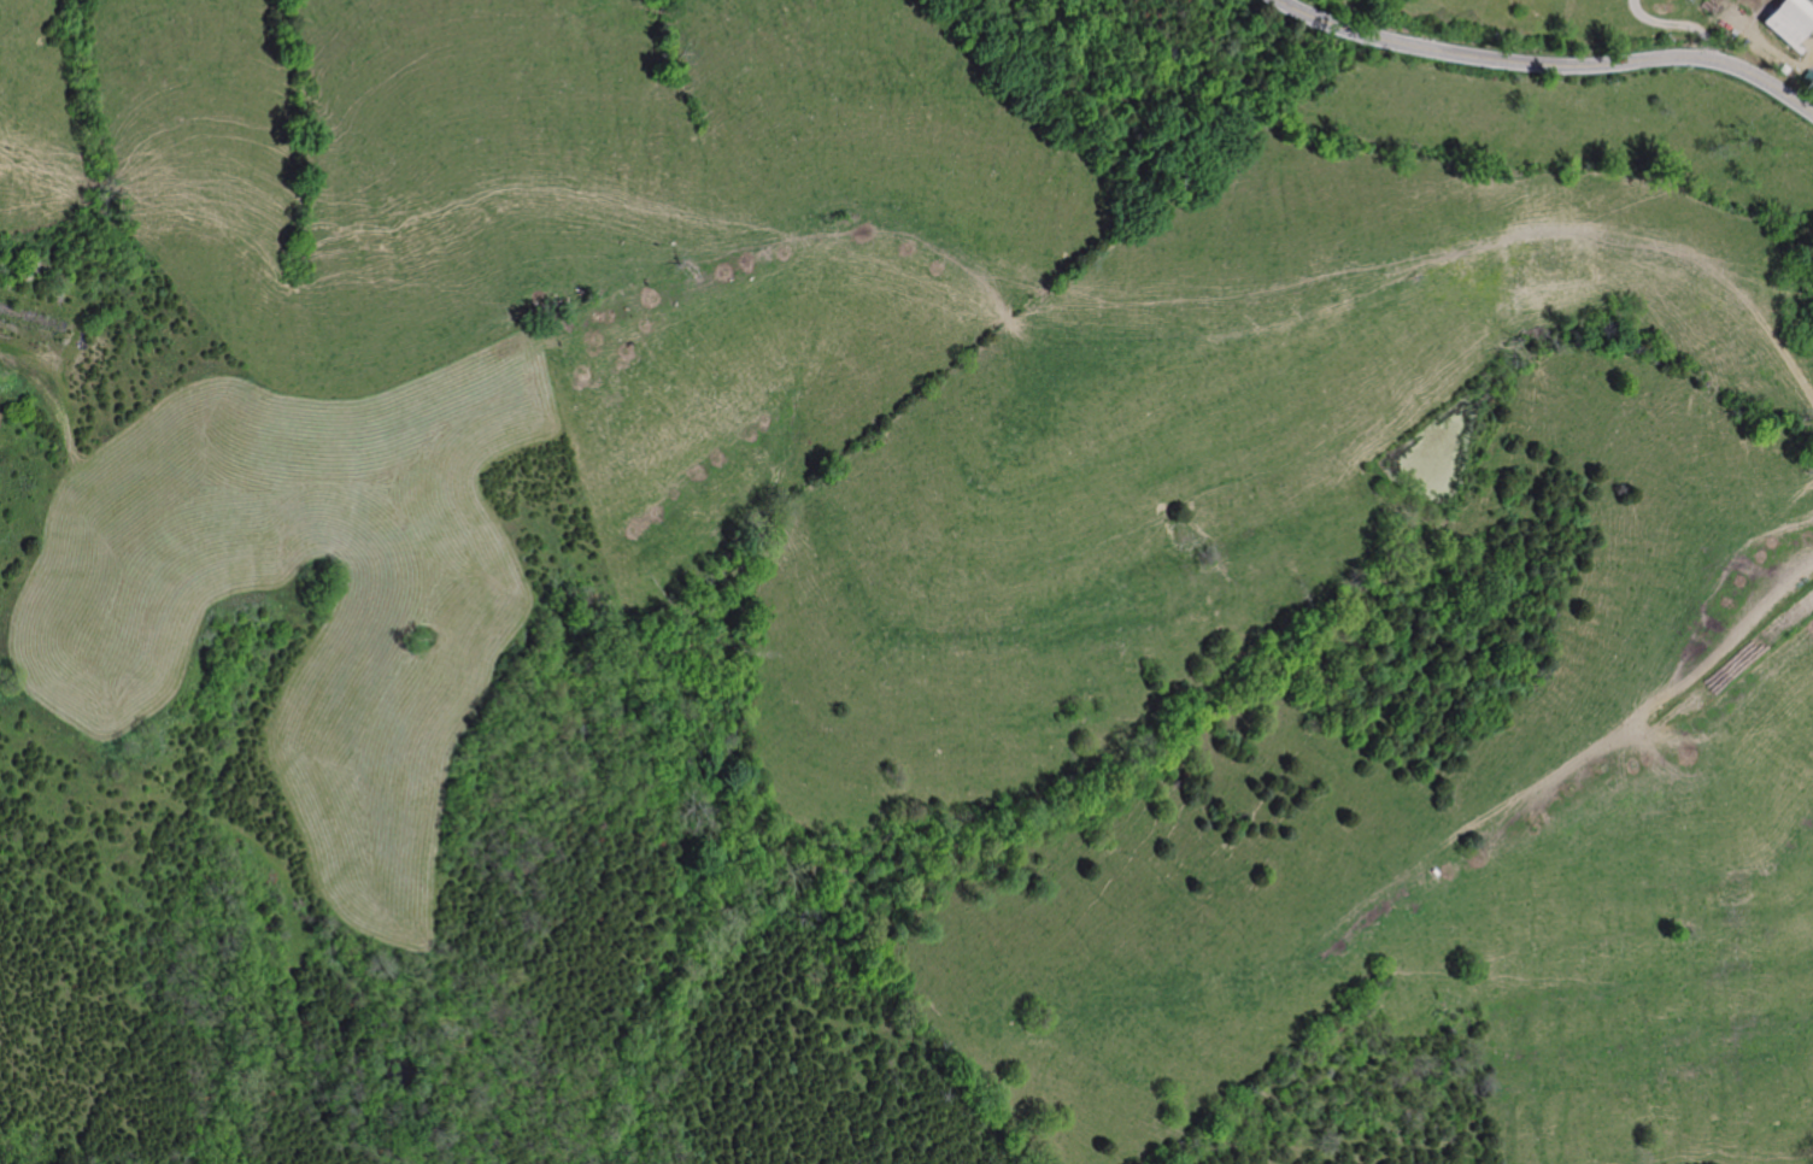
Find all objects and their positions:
building: (1783, 20)
road: (1674, 23)
road: (1811, 31)
road: (1764, 45)
road: (1549, 64)
building: (1777, 67)
building: (1806, 81)
road: (1170, 329)
road: (1612, 745)

